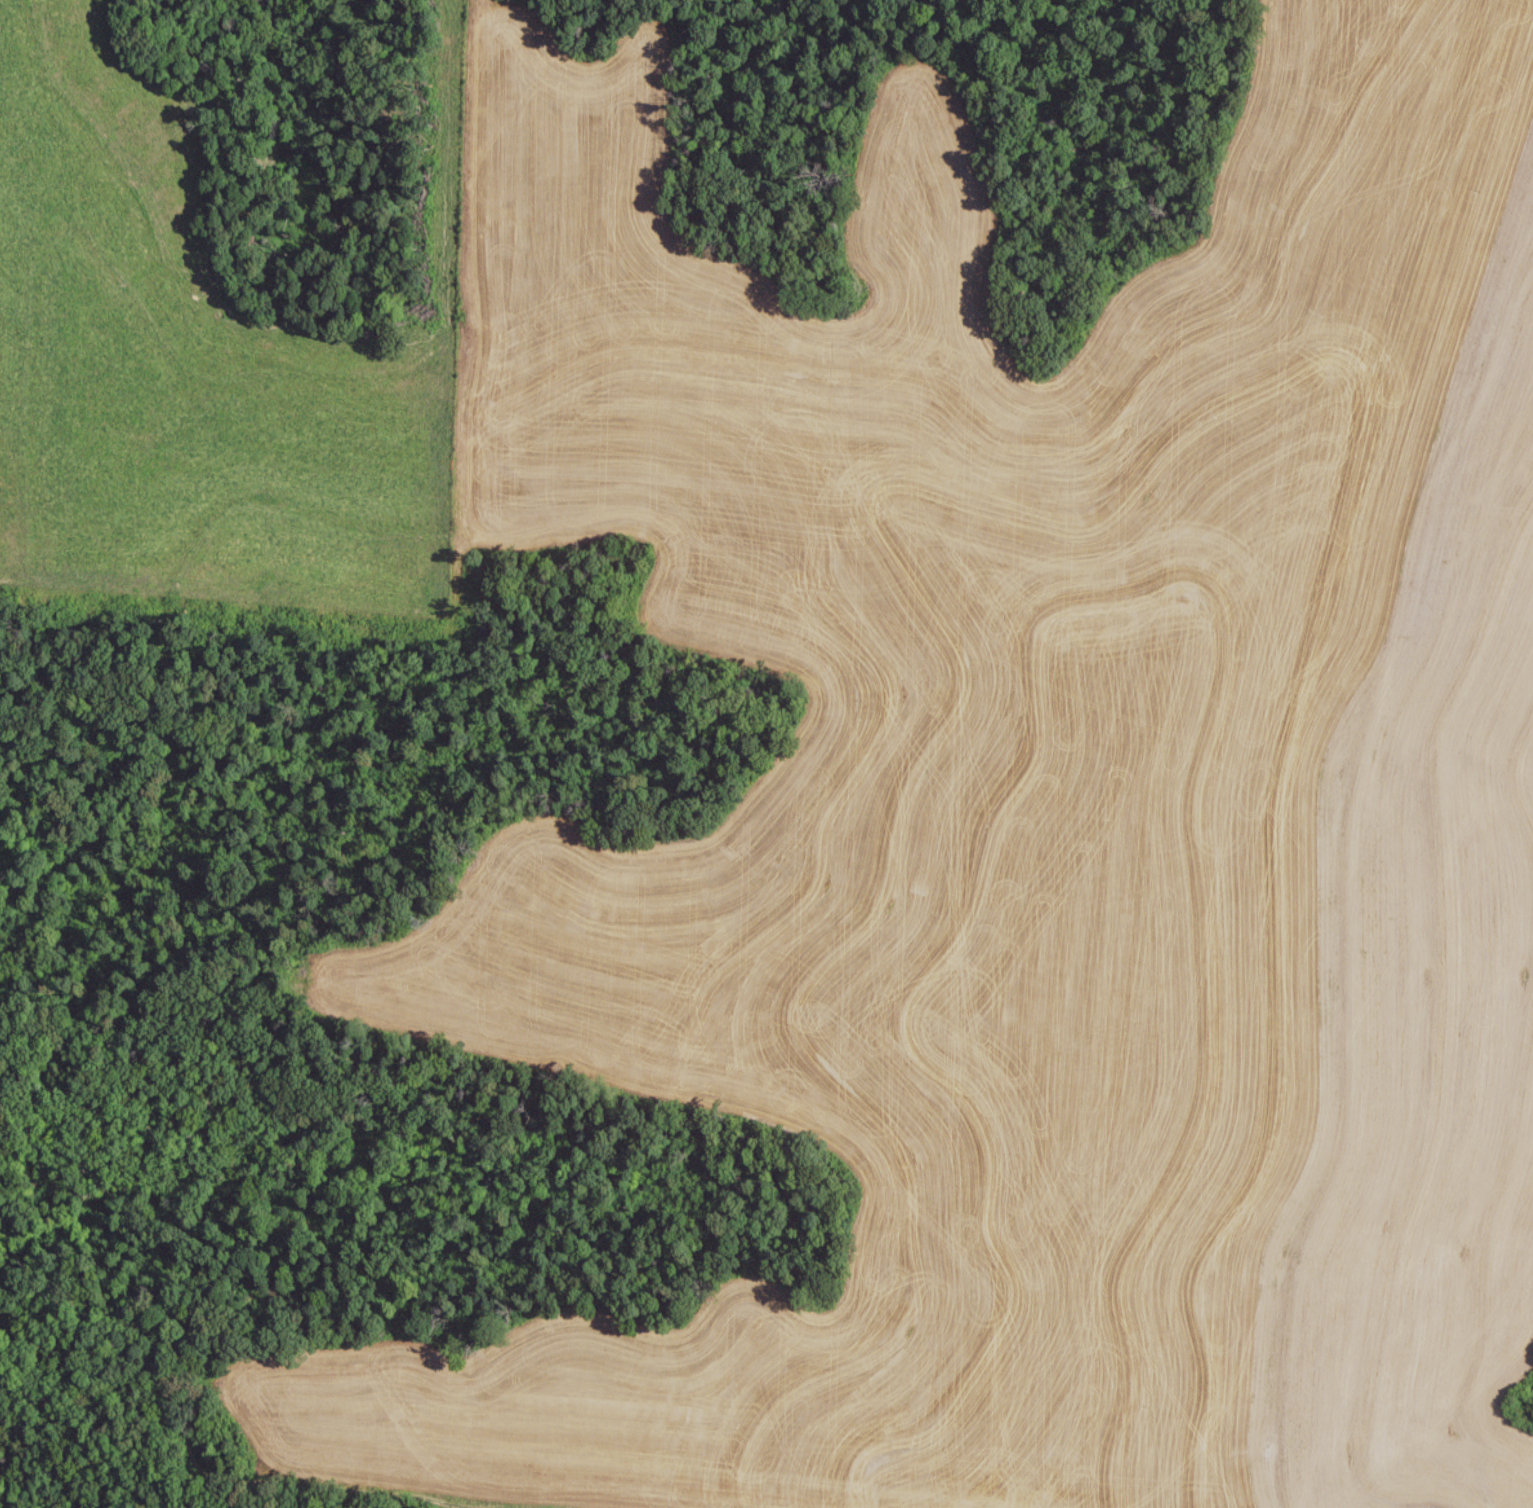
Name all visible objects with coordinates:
road: (187, 1462)

